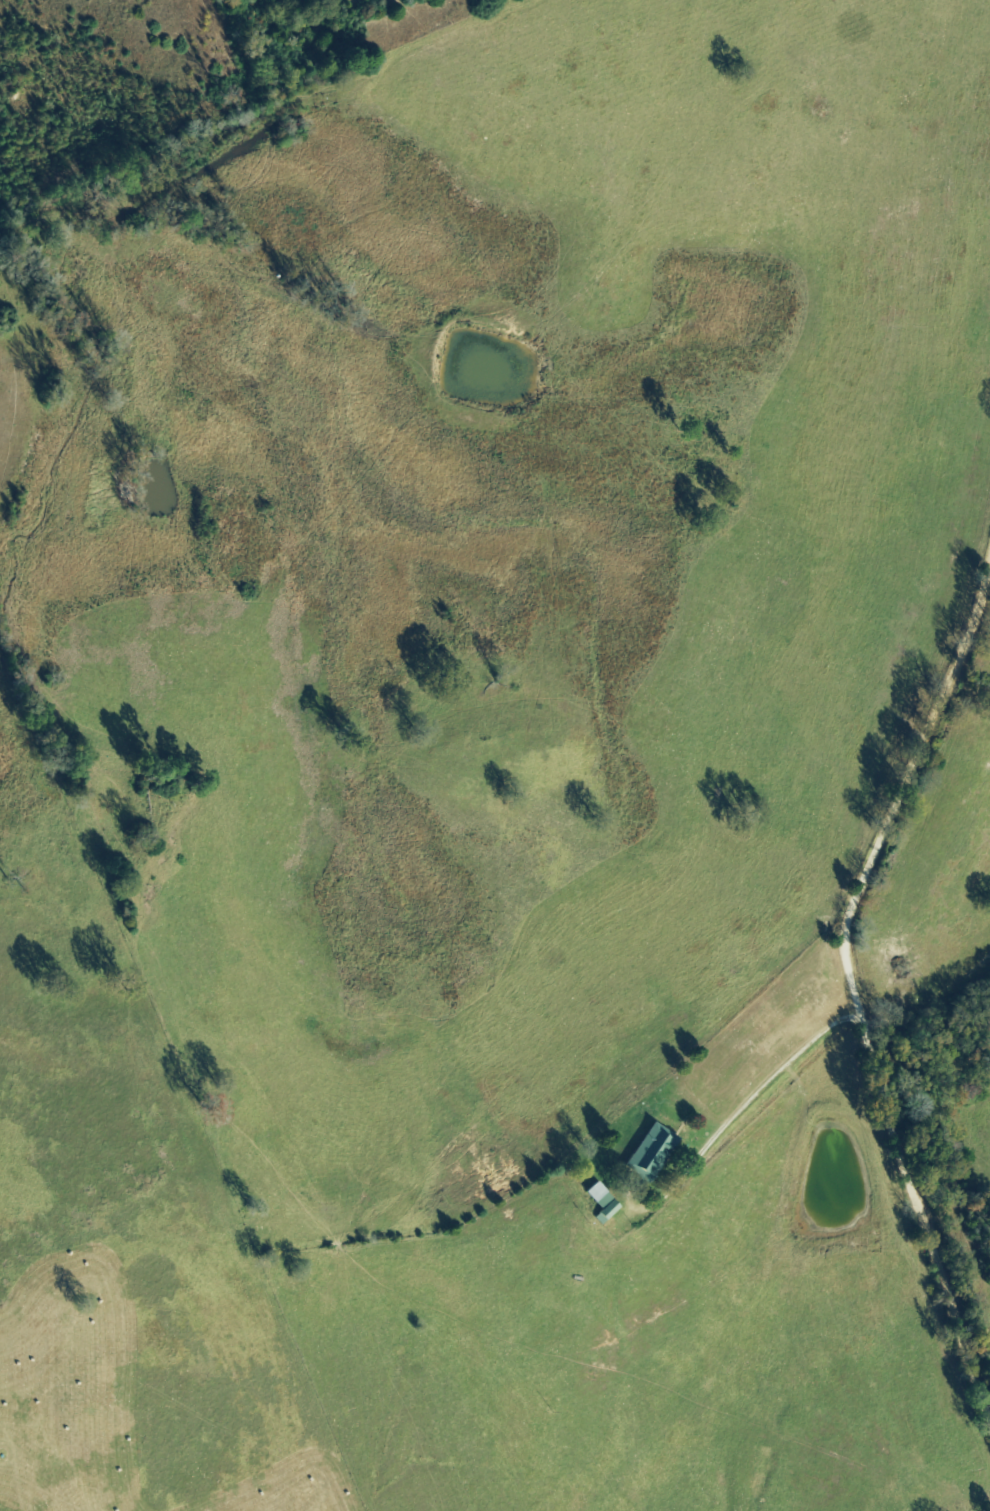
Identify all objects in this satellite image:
road: (863, 1003)
building: (601, 1202)

